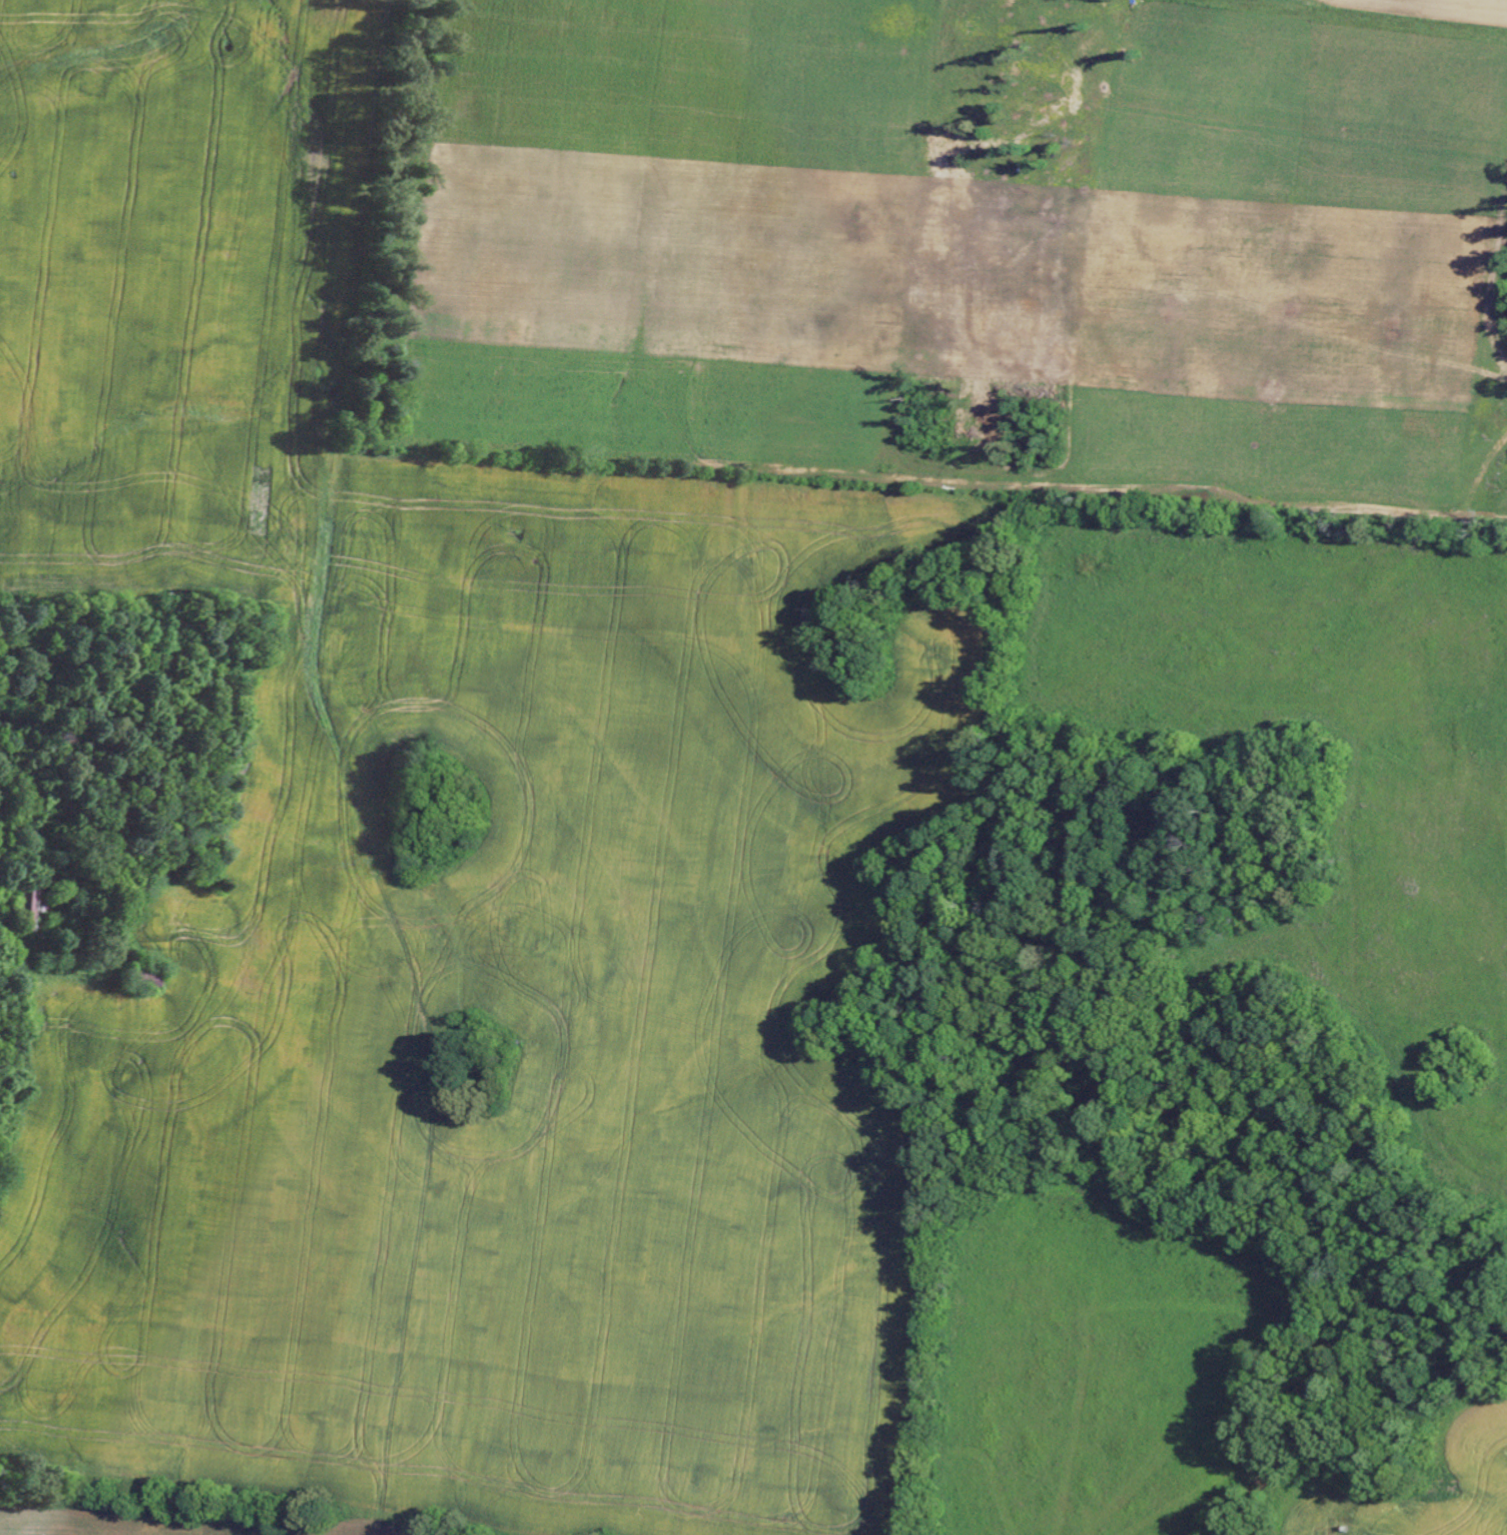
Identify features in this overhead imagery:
road: (934, 437)
road: (484, 809)
road: (507, 1161)

